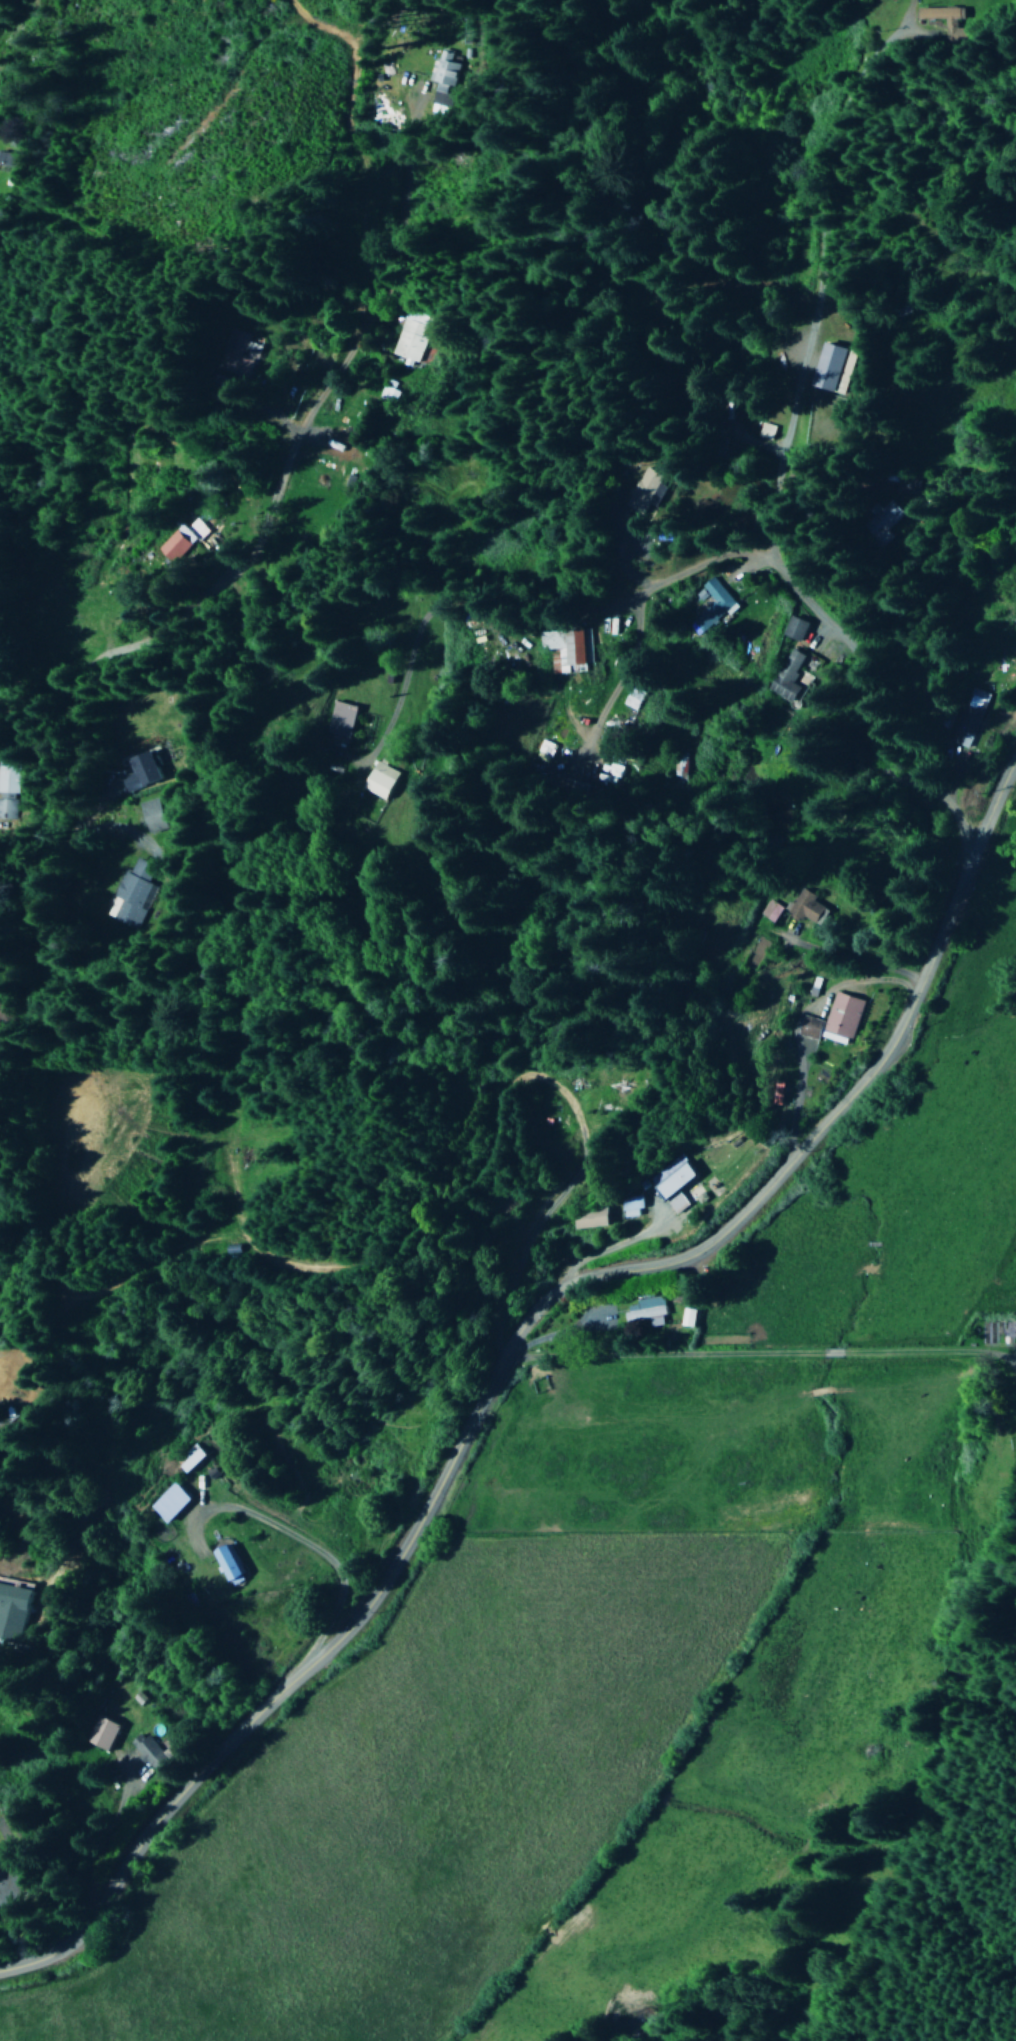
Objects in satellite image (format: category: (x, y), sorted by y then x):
building: (442, 74)
building: (7, 160)
road: (392, 311)
building: (416, 334)
building: (252, 351)
building: (832, 368)
building: (763, 431)
building: (341, 446)
road: (771, 478)
building: (647, 486)
road: (268, 515)
building: (173, 546)
road: (517, 602)
building: (714, 602)
building: (794, 628)
building: (565, 649)
building: (792, 676)
building: (632, 699)
building: (968, 718)
building: (341, 719)
building: (543, 752)
road: (1012, 762)
building: (677, 766)
building: (143, 772)
building: (6, 777)
building: (383, 780)
building: (156, 815)
building: (135, 889)
building: (805, 907)
building: (770, 911)
building: (833, 1019)
building: (676, 1187)
building: (628, 1207)
building: (589, 1218)
building: (644, 1311)
building: (689, 1317)
road: (509, 1343)
road: (758, 1354)
building: (193, 1459)
building: (171, 1503)
road: (300, 1542)
building: (230, 1566)
building: (13, 1613)
building: (101, 1733)
building: (148, 1751)

